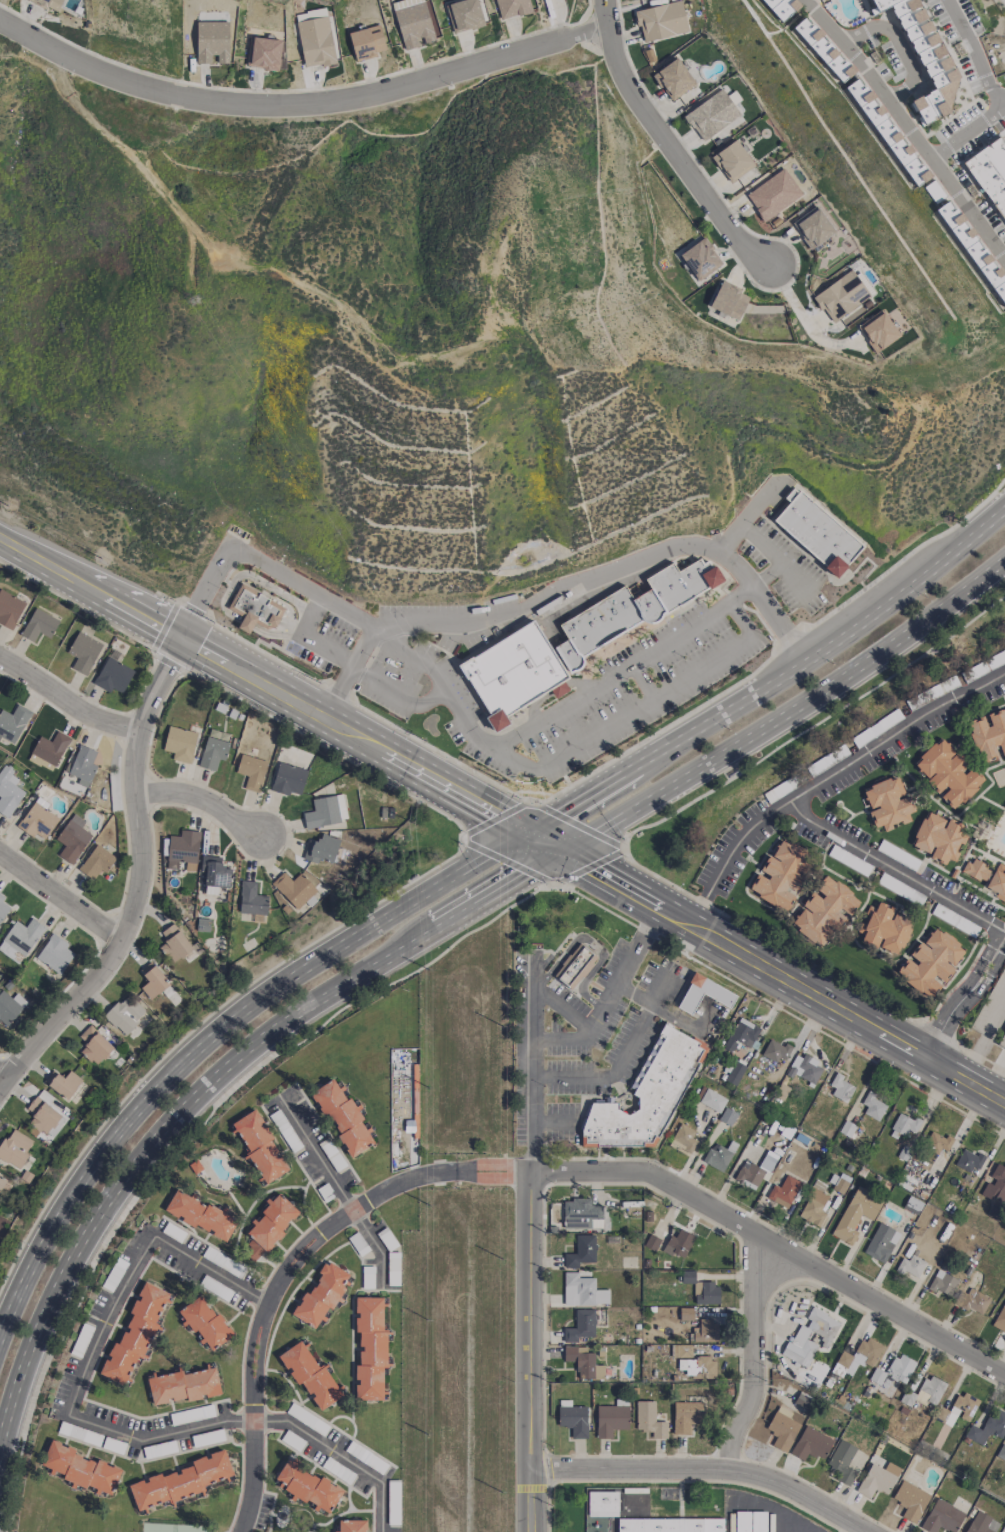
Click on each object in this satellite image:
building: (50, 4)
building: (513, 7)
building: (781, 7)
building: (464, 15)
building: (661, 21)
building: (414, 22)
road: (823, 22)
building: (212, 41)
building: (315, 41)
building: (367, 42)
building: (823, 49)
building: (263, 53)
road: (974, 53)
building: (924, 56)
building: (673, 79)
road: (873, 82)
road: (298, 102)
road: (1002, 106)
building: (711, 115)
building: (888, 132)
road: (673, 142)
building: (732, 161)
building: (990, 172)
building: (934, 191)
building: (773, 194)
road: (968, 212)
building: (813, 227)
building: (974, 250)
building: (700, 259)
building: (841, 296)
building: (729, 300)
road: (803, 318)
building: (879, 330)
road: (751, 516)
building: (817, 532)
road: (44, 559)
road: (776, 560)
road: (264, 561)
road: (228, 590)
road: (571, 591)
building: (633, 608)
building: (9, 609)
building: (255, 609)
building: (39, 625)
road: (777, 651)
building: (83, 652)
road: (351, 666)
building: (512, 673)
building: (113, 676)
road: (772, 678)
road: (67, 699)
road: (568, 700)
road: (310, 707)
road: (641, 707)
road: (789, 711)
building: (13, 723)
road: (813, 724)
building: (988, 735)
building: (180, 743)
building: (50, 748)
building: (212, 753)
building: (83, 765)
building: (251, 771)
building: (948, 773)
road: (826, 775)
building: (288, 779)
building: (8, 791)
road: (203, 799)
building: (888, 803)
building: (325, 811)
building: (38, 820)
traffic signals: (531, 831)
building: (938, 837)
building: (72, 839)
road: (547, 840)
building: (321, 849)
traffic signals: (563, 849)
building: (183, 850)
building: (96, 862)
road: (894, 868)
building: (977, 870)
building: (214, 874)
building: (780, 875)
road: (138, 878)
road: (549, 879)
building: (997, 882)
building: (294, 889)
road: (61, 895)
building: (251, 899)
building: (824, 911)
building: (884, 928)
building: (19, 940)
building: (174, 943)
road: (594, 944)
building: (55, 954)
building: (931, 963)
building: (575, 965)
road: (783, 976)
building: (152, 980)
road: (608, 993)
building: (703, 994)
road: (964, 995)
building: (10, 1007)
road: (660, 1008)
road: (562, 1009)
building: (124, 1014)
building: (741, 1034)
road: (216, 1035)
building: (1002, 1041)
building: (94, 1045)
building: (775, 1051)
road: (622, 1058)
road: (533, 1060)
building: (804, 1069)
road: (4, 1072)
building: (735, 1073)
road: (210, 1078)
building: (62, 1083)
building: (840, 1088)
building: (646, 1094)
building: (713, 1100)
building: (873, 1106)
building: (42, 1115)
building: (727, 1116)
building: (343, 1117)
road: (552, 1121)
building: (904, 1124)
building: (683, 1139)
building: (936, 1143)
building: (260, 1146)
building: (14, 1148)
building: (717, 1156)
building: (969, 1161)
road: (494, 1169)
building: (996, 1183)
building: (839, 1185)
road: (339, 1189)
building: (784, 1191)
building: (814, 1205)
building: (856, 1213)
building: (200, 1214)
building: (579, 1215)
building: (270, 1225)
building: (881, 1242)
building: (678, 1243)
road: (775, 1249)
building: (581, 1251)
building: (911, 1266)
road: (209, 1268)
building: (942, 1283)
building: (582, 1291)
building: (706, 1293)
building: (321, 1295)
road: (270, 1298)
building: (974, 1301)
building: (685, 1314)
building: (1000, 1319)
road: (106, 1321)
building: (204, 1322)
building: (580, 1326)
building: (705, 1331)
building: (135, 1333)
building: (799, 1338)
building: (370, 1348)
road: (532, 1350)
building: (681, 1350)
road: (752, 1356)
building: (857, 1357)
building: (583, 1363)
building: (697, 1367)
building: (893, 1372)
building: (310, 1375)
building: (183, 1386)
building: (930, 1390)
building: (964, 1405)
building: (686, 1416)
building: (610, 1419)
road: (255, 1420)
building: (573, 1420)
building: (649, 1420)
building: (988, 1427)
building: (782, 1429)
building: (811, 1444)
building: (842, 1462)
building: (80, 1468)
road: (708, 1471)
building: (181, 1481)
building: (875, 1481)
building: (308, 1486)
building: (910, 1500)
building: (602, 1503)
building: (942, 1517)
building: (751, 1522)
building: (982, 1524)
building: (351, 1525)
building: (671, 1525)

